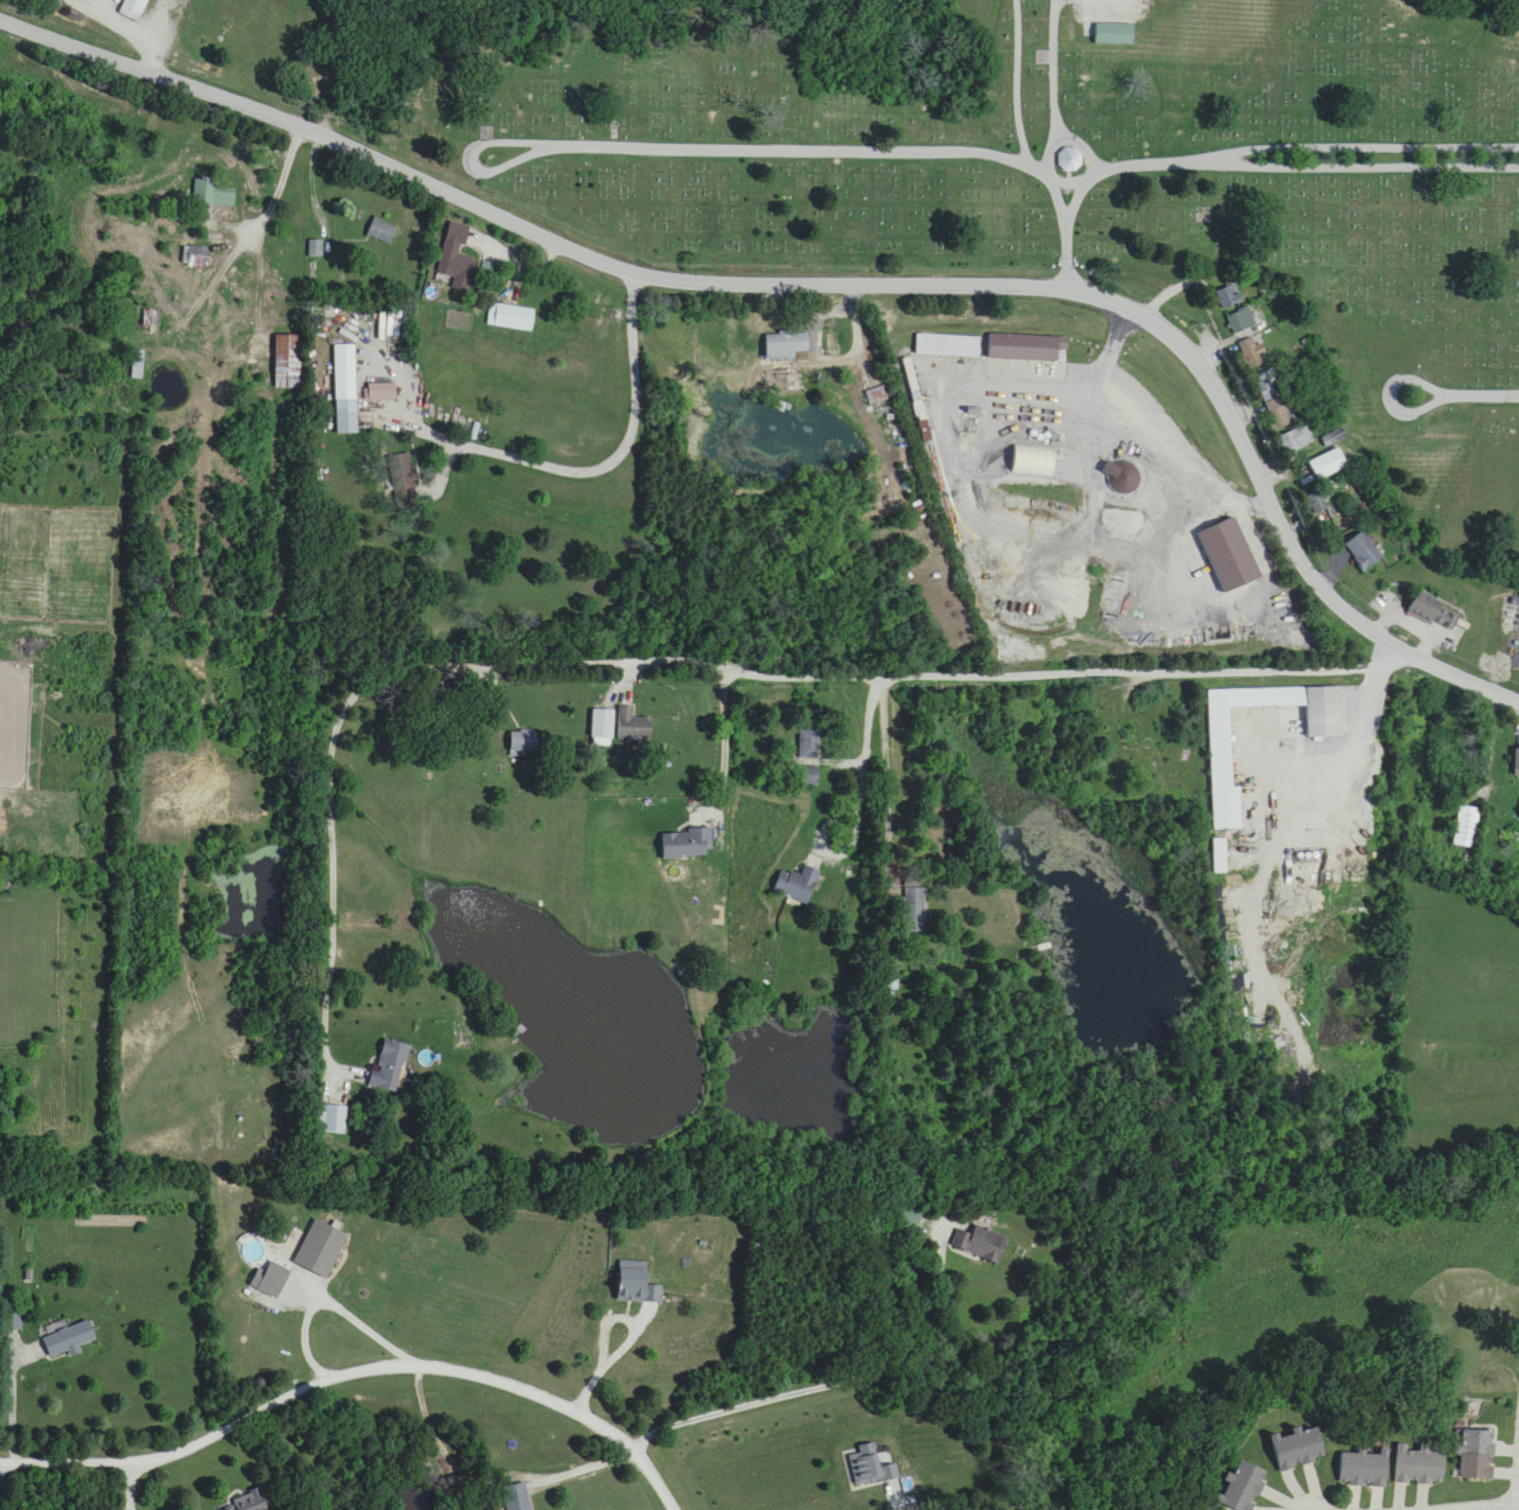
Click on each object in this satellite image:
road: (89, 3)
road: (81, 4)
building: (132, 8)
road: (135, 28)
building: (1113, 34)
road: (1054, 58)
road: (1018, 74)
road: (1061, 118)
road: (860, 138)
road: (472, 149)
road: (1279, 154)
building: (1070, 159)
park: (1051, 173)
road: (312, 184)
building: (212, 194)
road: (262, 221)
building: (381, 231)
building: (197, 256)
building: (455, 256)
road: (517, 259)
road: (829, 283)
building: (1228, 297)
road: (195, 298)
building: (515, 317)
building: (1241, 321)
building: (786, 345)
building: (948, 345)
building: (1026, 347)
road: (858, 354)
building: (1253, 354)
building: (287, 361)
building: (138, 364)
road: (1412, 369)
building: (1267, 383)
road: (1481, 384)
building: (345, 389)
building: (382, 392)
building: (1280, 413)
road: (1160, 432)
building: (1295, 440)
road: (590, 463)
building: (1329, 464)
building: (1122, 477)
building: (402, 479)
building: (1317, 502)
building: (1363, 551)
building: (1435, 612)
road: (629, 652)
road: (1143, 663)
building: (461, 690)
building: (633, 725)
road: (723, 730)
road: (1496, 737)
building: (1146, 741)
building: (809, 743)
building: (523, 744)
building: (1221, 762)
building: (1517, 762)
road: (858, 792)
road: (1286, 809)
building: (1466, 827)
building: (687, 844)
road: (338, 847)
building: (796, 885)
building: (915, 910)
building: (389, 1066)
building: (906, 1219)
building: (983, 1244)
building: (252, 1249)
building: (319, 1250)
road: (357, 1316)
building: (13, 1323)
building: (68, 1340)
road: (604, 1358)
road: (358, 1368)
road: (781, 1396)
road: (12, 1401)
building: (1296, 1450)
building: (1477, 1456)
building: (1419, 1467)
building: (1364, 1470)
road: (1083, 1482)
road: (127, 1484)
building: (1241, 1487)
building: (517, 1497)
building: (249, 1504)
road: (903, 1505)
road: (1466, 1507)
road: (1518, 1507)

